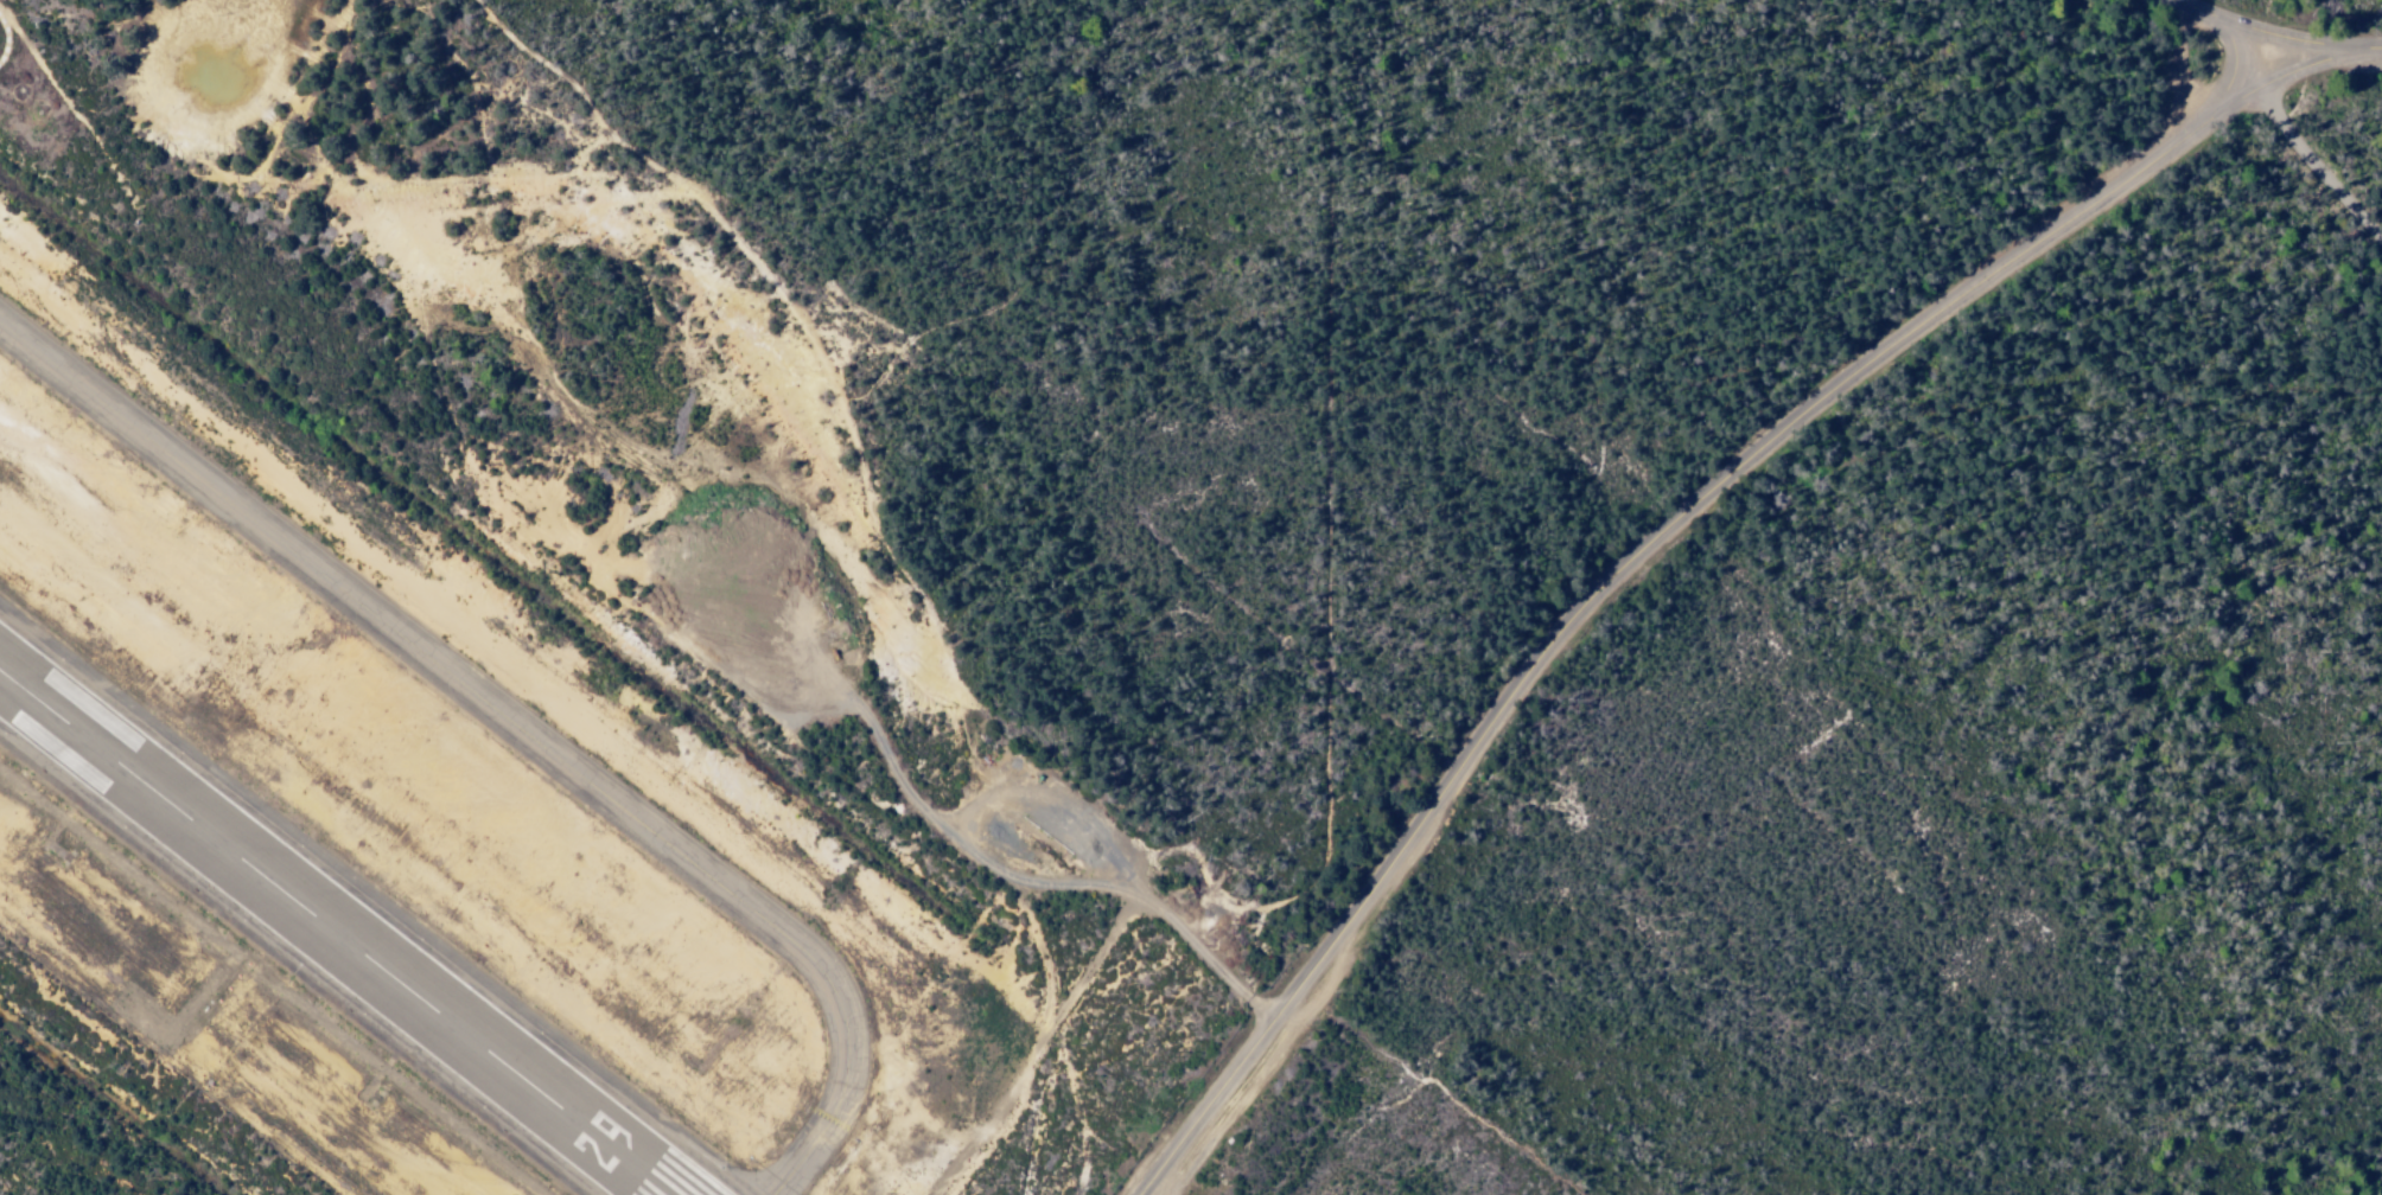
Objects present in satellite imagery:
road: (2276, 43)
road: (2349, 120)
road: (1643, 541)
airport taxiway: (510, 722)
airport: (397, 825)
airport runway: (331, 938)

